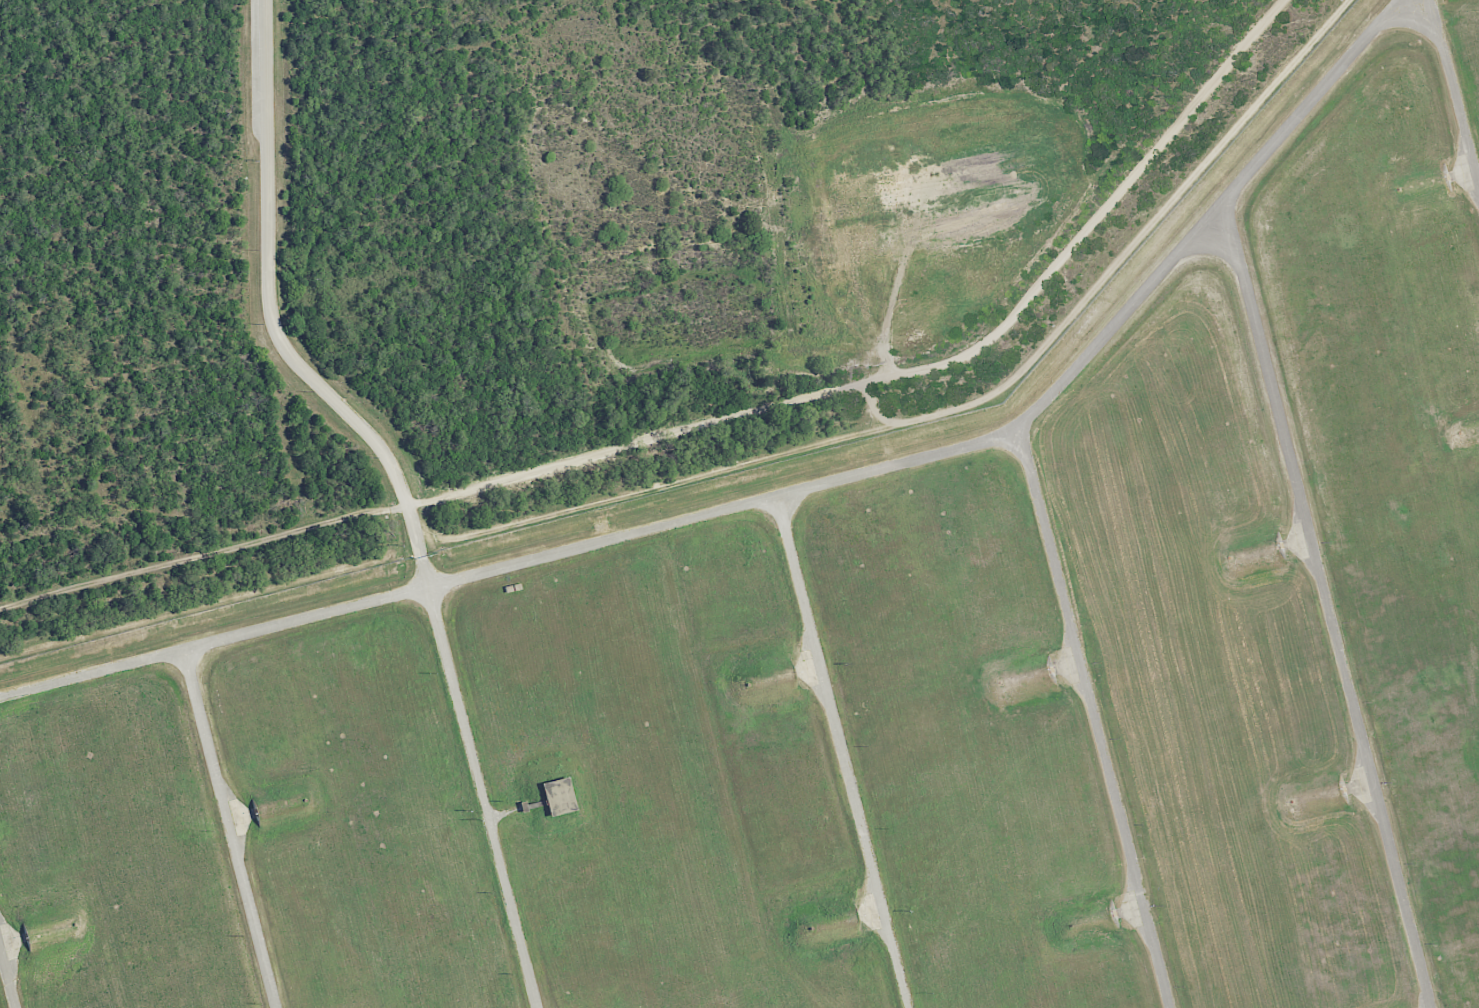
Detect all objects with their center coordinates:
road: (1454, 86)
road: (403, 488)
road: (788, 494)
road: (1329, 609)
road: (1096, 717)
road: (844, 752)
building: (556, 796)
road: (230, 829)
road: (7, 977)

